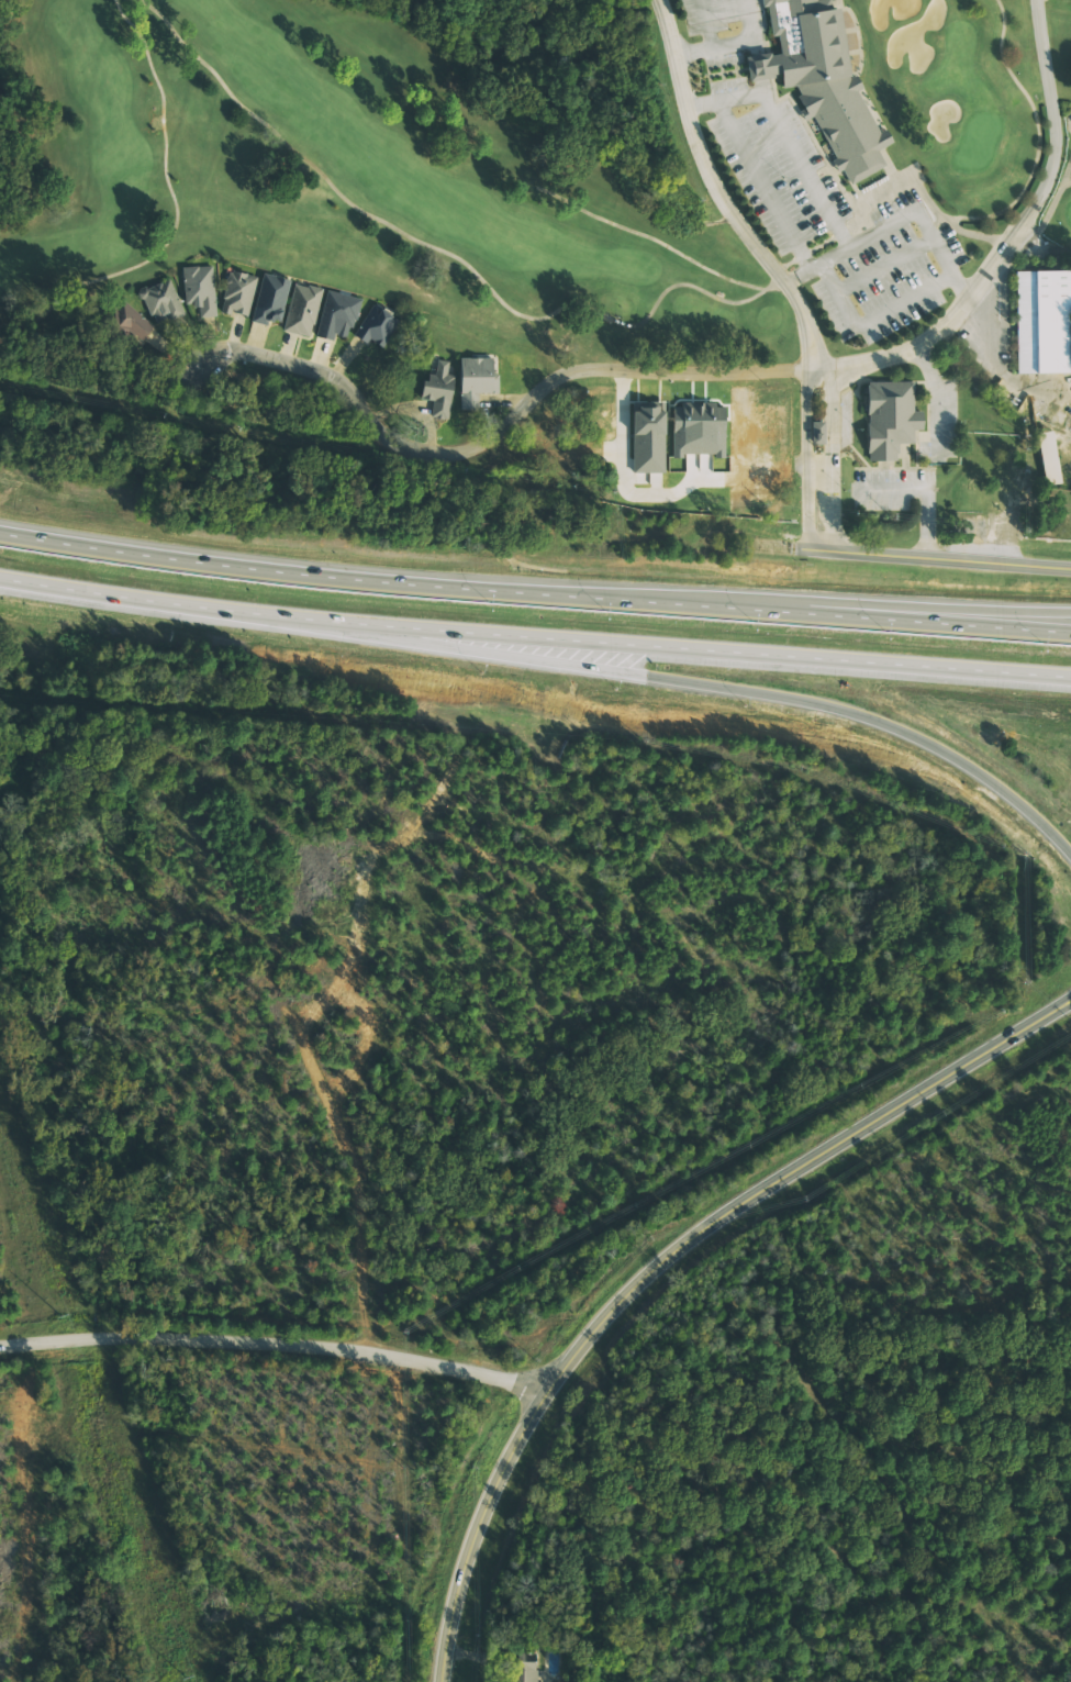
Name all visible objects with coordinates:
building: (819, 81)
park: (964, 99)
park: (1070, 111)
road: (1039, 135)
road: (316, 168)
road: (1066, 175)
park: (345, 180)
road: (715, 180)
road: (178, 209)
park: (1068, 211)
road: (1044, 222)
road: (962, 230)
road: (895, 231)
road: (654, 237)
road: (1011, 241)
building: (196, 286)
building: (235, 291)
building: (270, 298)
road: (726, 299)
building: (159, 302)
building: (301, 308)
building: (337, 315)
building: (1040, 321)
building: (125, 322)
building: (375, 326)
building: (473, 380)
building: (438, 390)
building: (885, 417)
building: (815, 433)
building: (648, 436)
road: (482, 443)
road: (828, 443)
road: (807, 444)
building: (1044, 456)
road: (938, 558)
road: (534, 591)
road: (949, 611)
road: (534, 636)
road: (670, 678)
road: (662, 1261)
road: (275, 1346)
building: (523, 1669)

